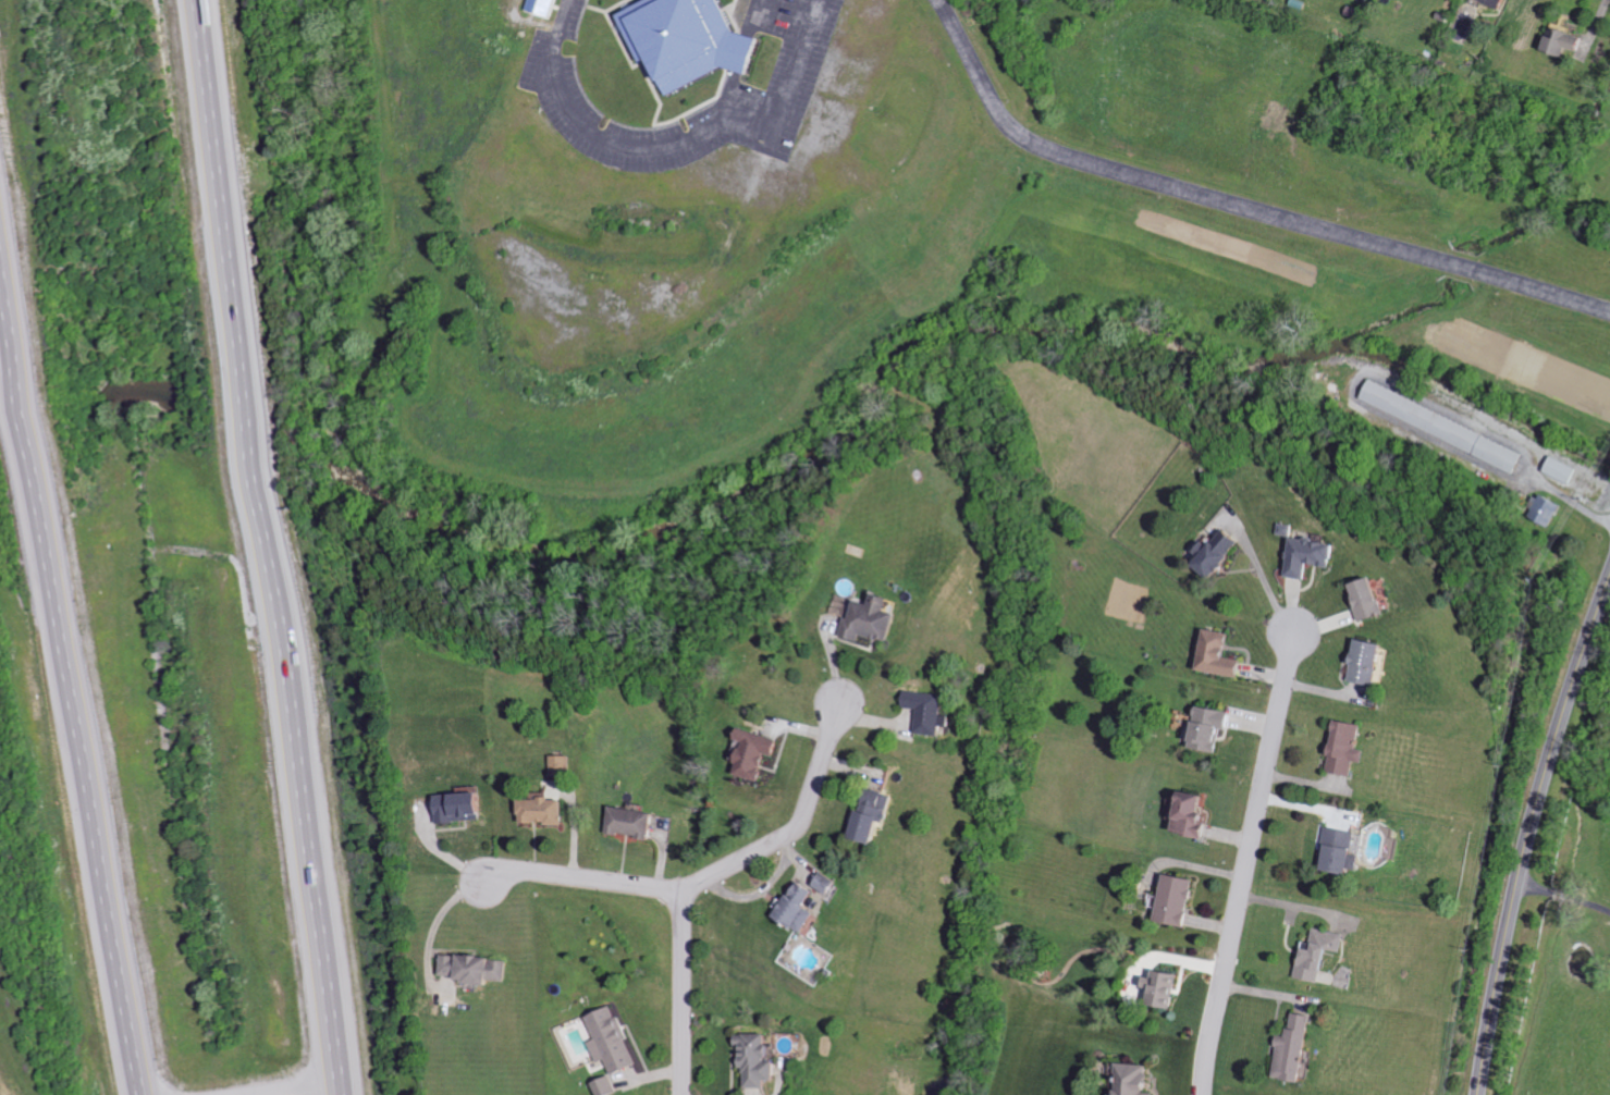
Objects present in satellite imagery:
building: (1502, 2)
building: (542, 7)
building: (689, 40)
building: (1569, 41)
road: (676, 143)
road: (1237, 202)
building: (1446, 426)
building: (1564, 469)
road: (1568, 497)
road: (269, 547)
building: (1221, 552)
building: (1314, 554)
road: (1266, 578)
building: (1372, 599)
building: (874, 618)
building: (1222, 654)
building: (1372, 661)
road: (67, 673)
building: (932, 711)
building: (1213, 726)
building: (1350, 747)
building: (758, 752)
building: (565, 763)
building: (464, 807)
building: (546, 810)
building: (1196, 813)
building: (878, 815)
building: (637, 821)
road: (1531, 837)
building: (1344, 849)
road: (1244, 862)
road: (709, 871)
building: (831, 883)
building: (1179, 899)
building: (801, 906)
building: (1322, 955)
building: (476, 968)
building: (1166, 987)
road: (683, 991)
building: (614, 1041)
building: (1298, 1048)
building: (760, 1059)
building: (1138, 1080)
road: (295, 1085)
building: (609, 1086)

